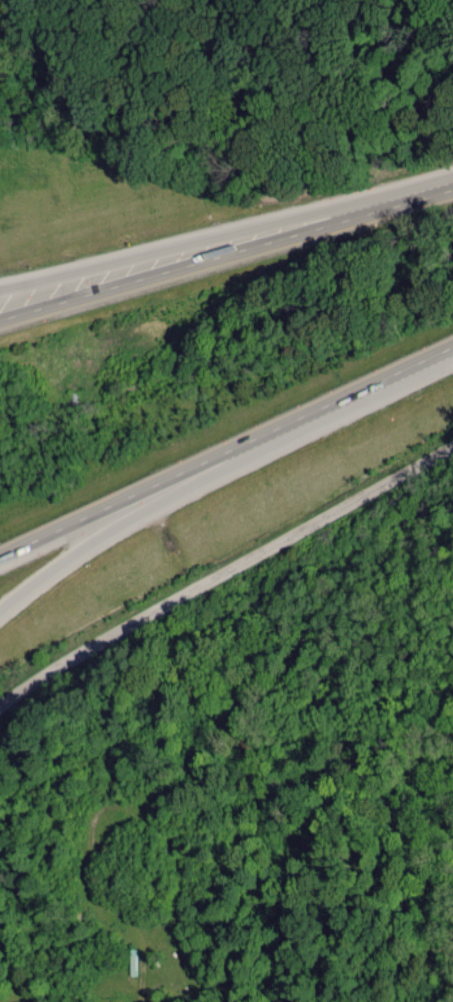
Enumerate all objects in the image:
road: (197, 246)
road: (226, 253)
road: (227, 454)
road: (148, 511)
road: (317, 525)
road: (90, 648)

